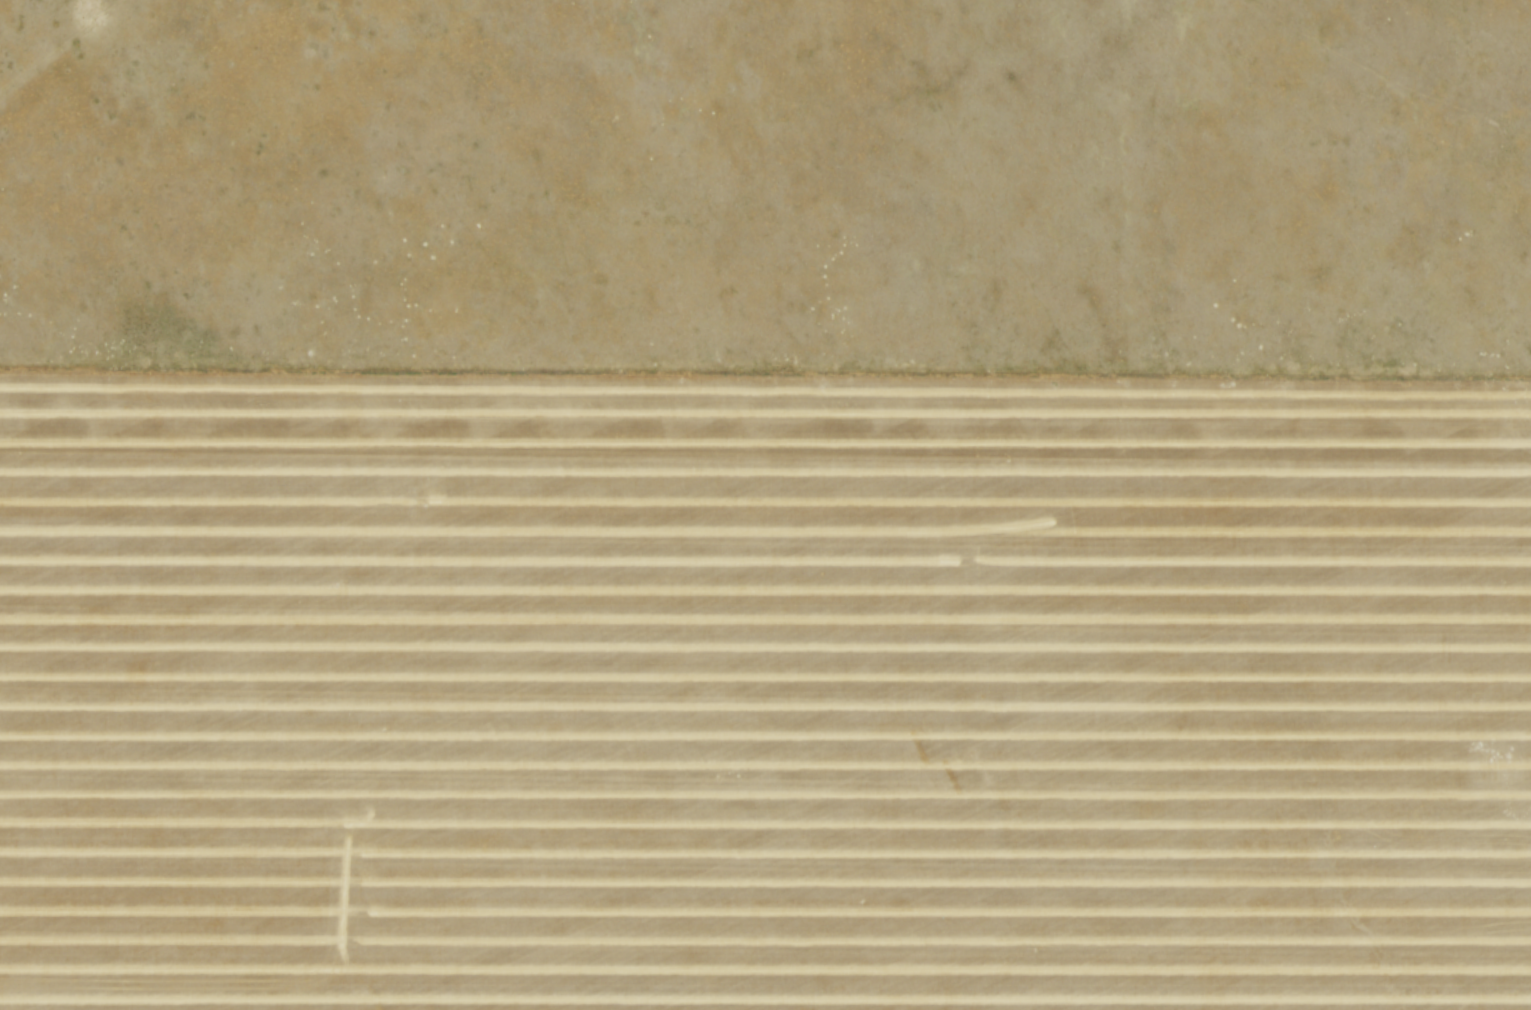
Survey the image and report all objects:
crop: (763, 695)

